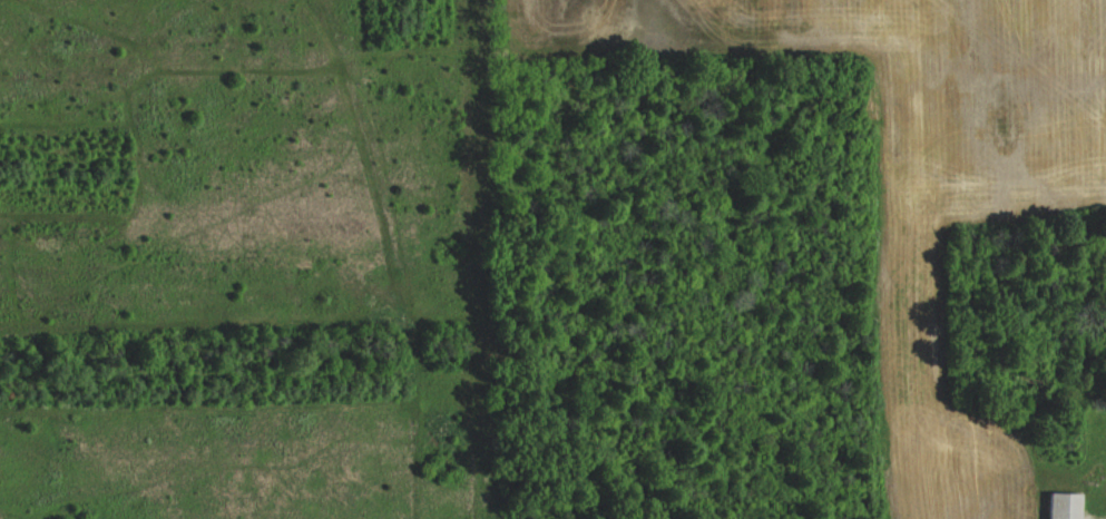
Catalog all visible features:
building: (1067, 506)

